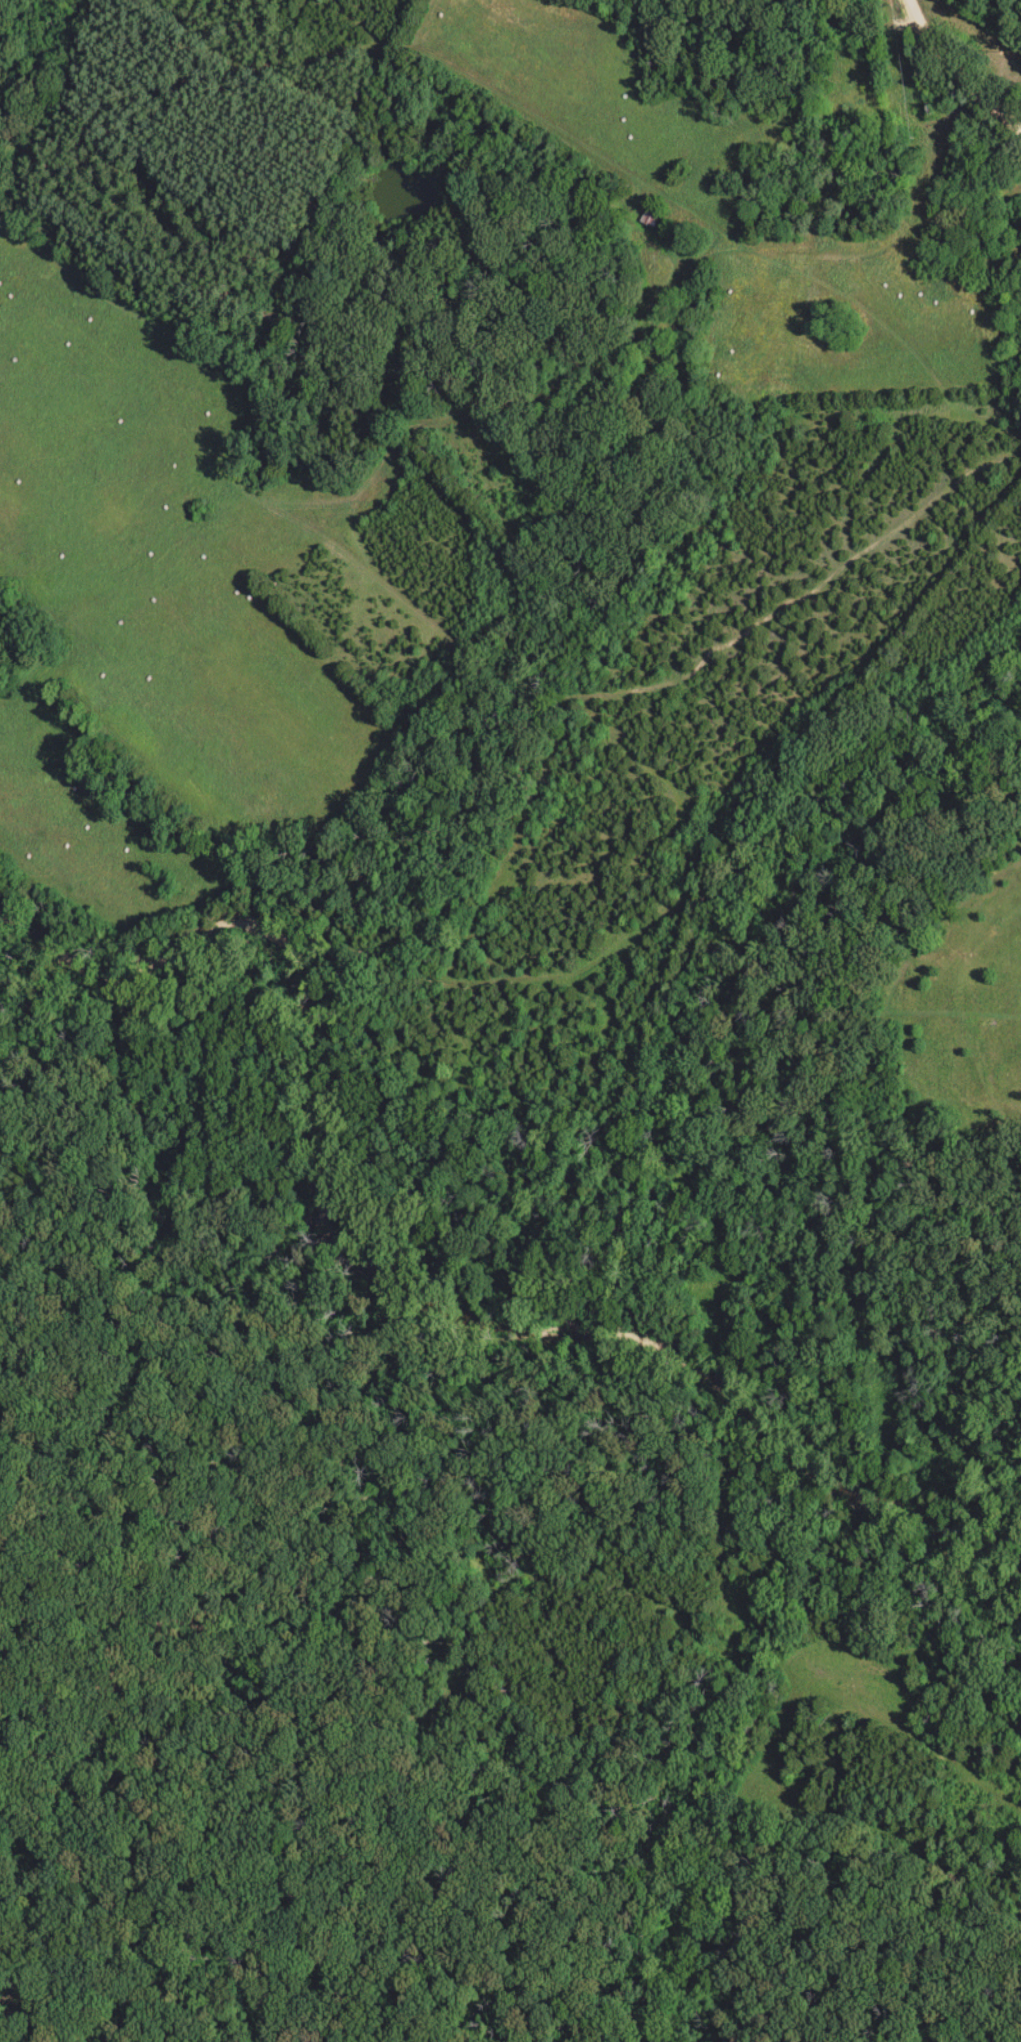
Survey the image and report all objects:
road: (955, 65)
building: (649, 218)

